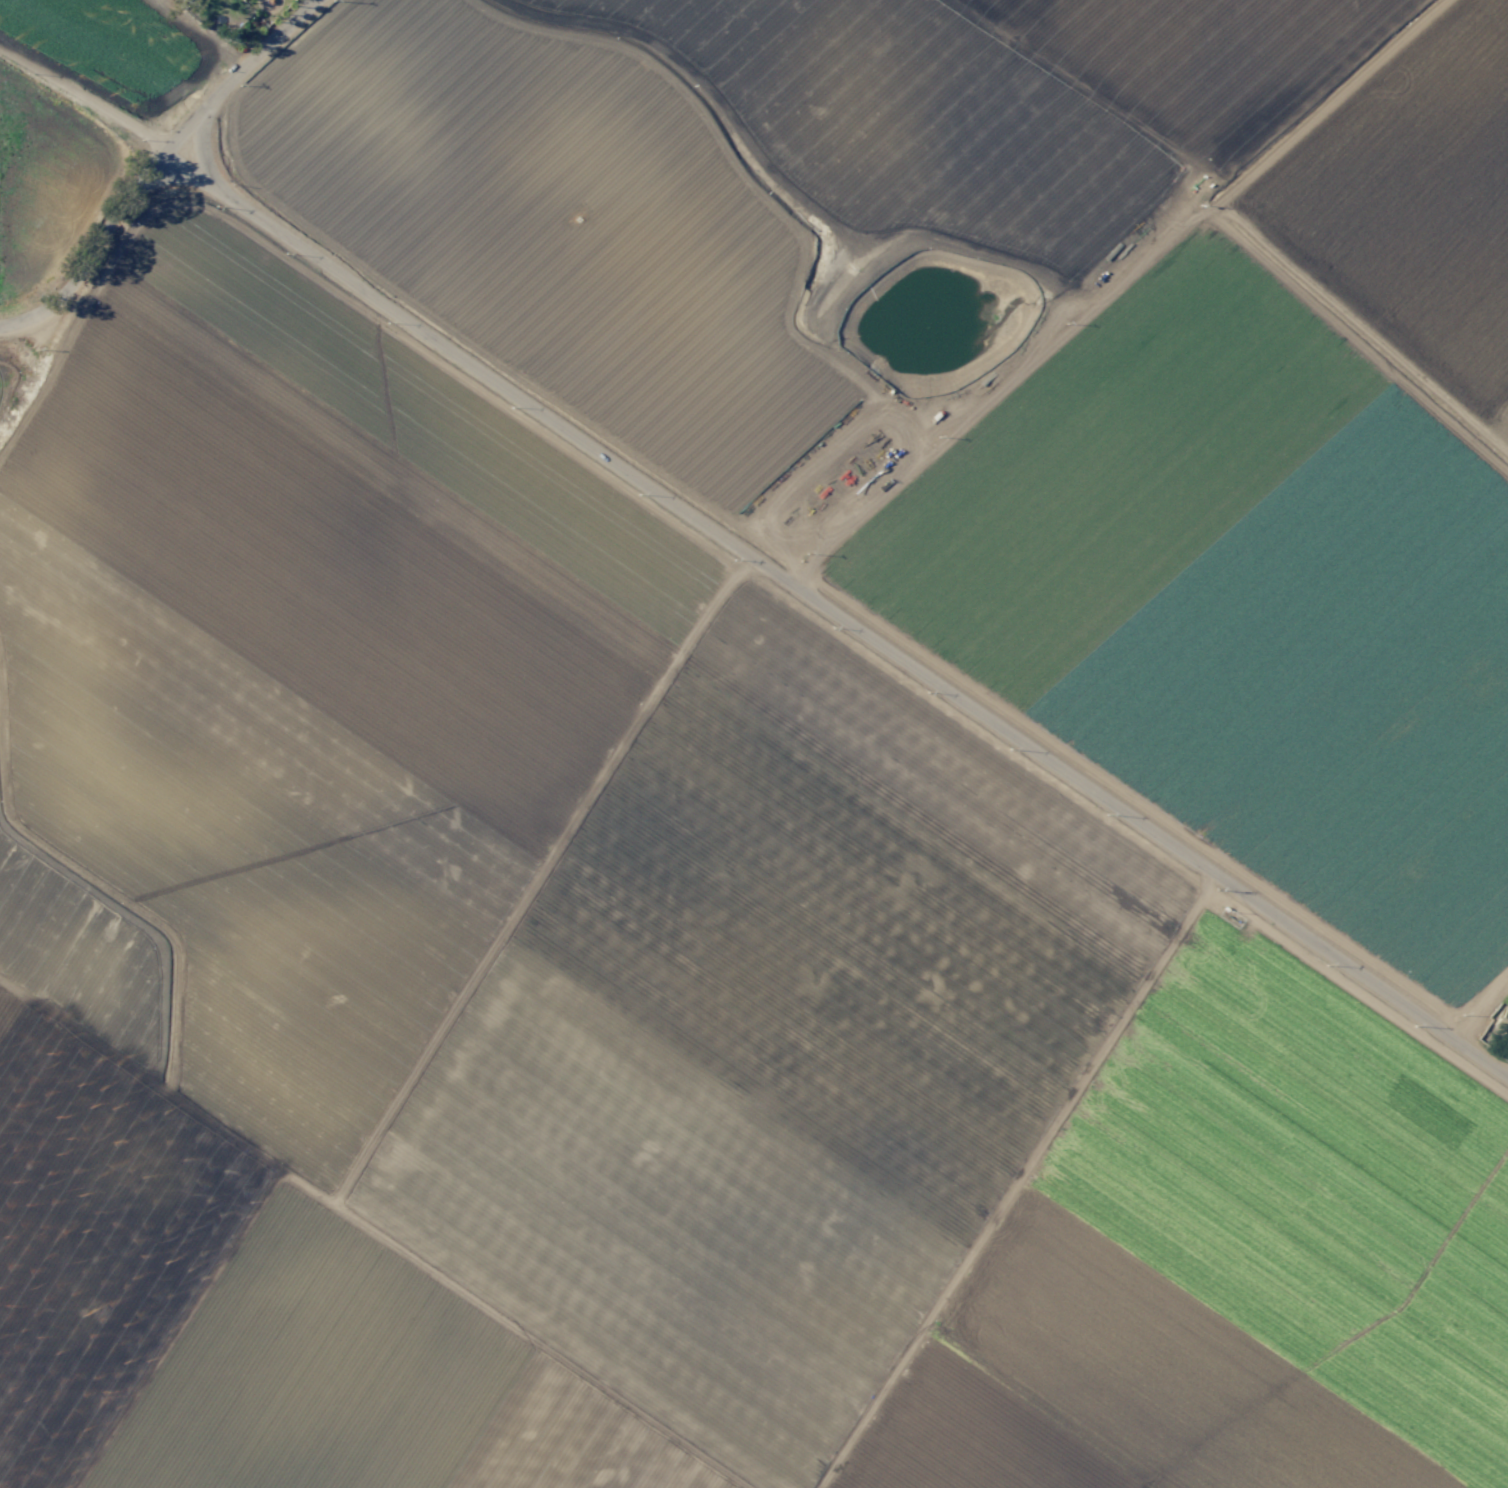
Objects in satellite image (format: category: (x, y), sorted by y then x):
building: (239, 0)
road: (245, 74)
road: (83, 97)
road: (196, 197)
road: (96, 253)
road: (838, 609)
crop: (754, 744)
road: (1477, 1003)
building: (1503, 1019)
road: (1016, 1180)

